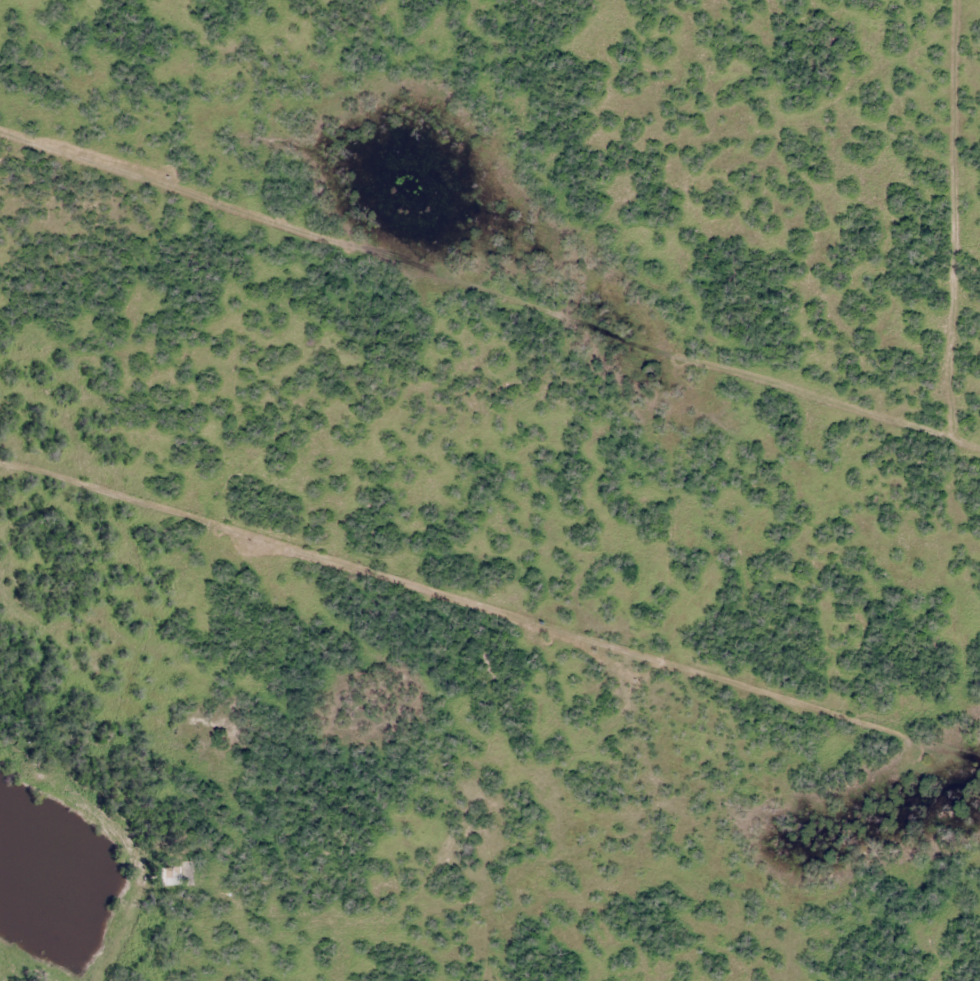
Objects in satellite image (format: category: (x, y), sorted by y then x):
building: (172, 878)

